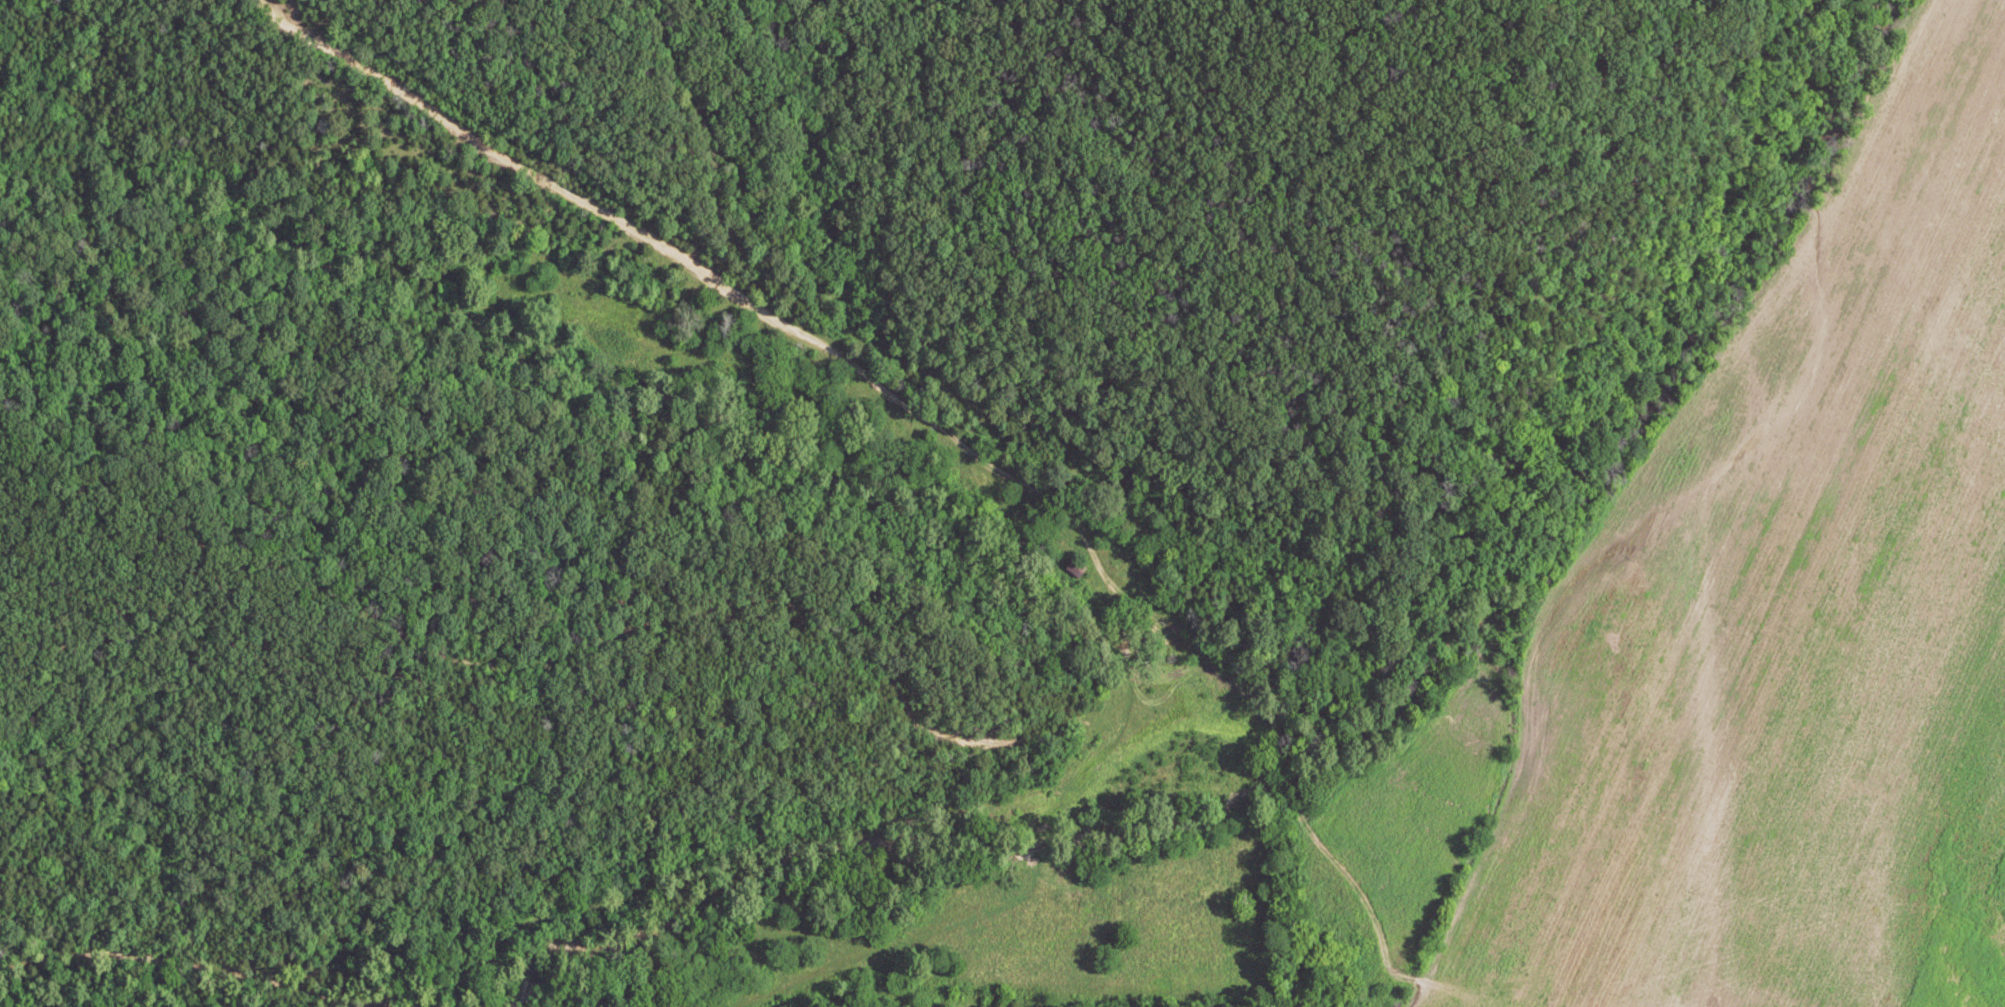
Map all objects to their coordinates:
road: (833, 356)
road: (1350, 794)

